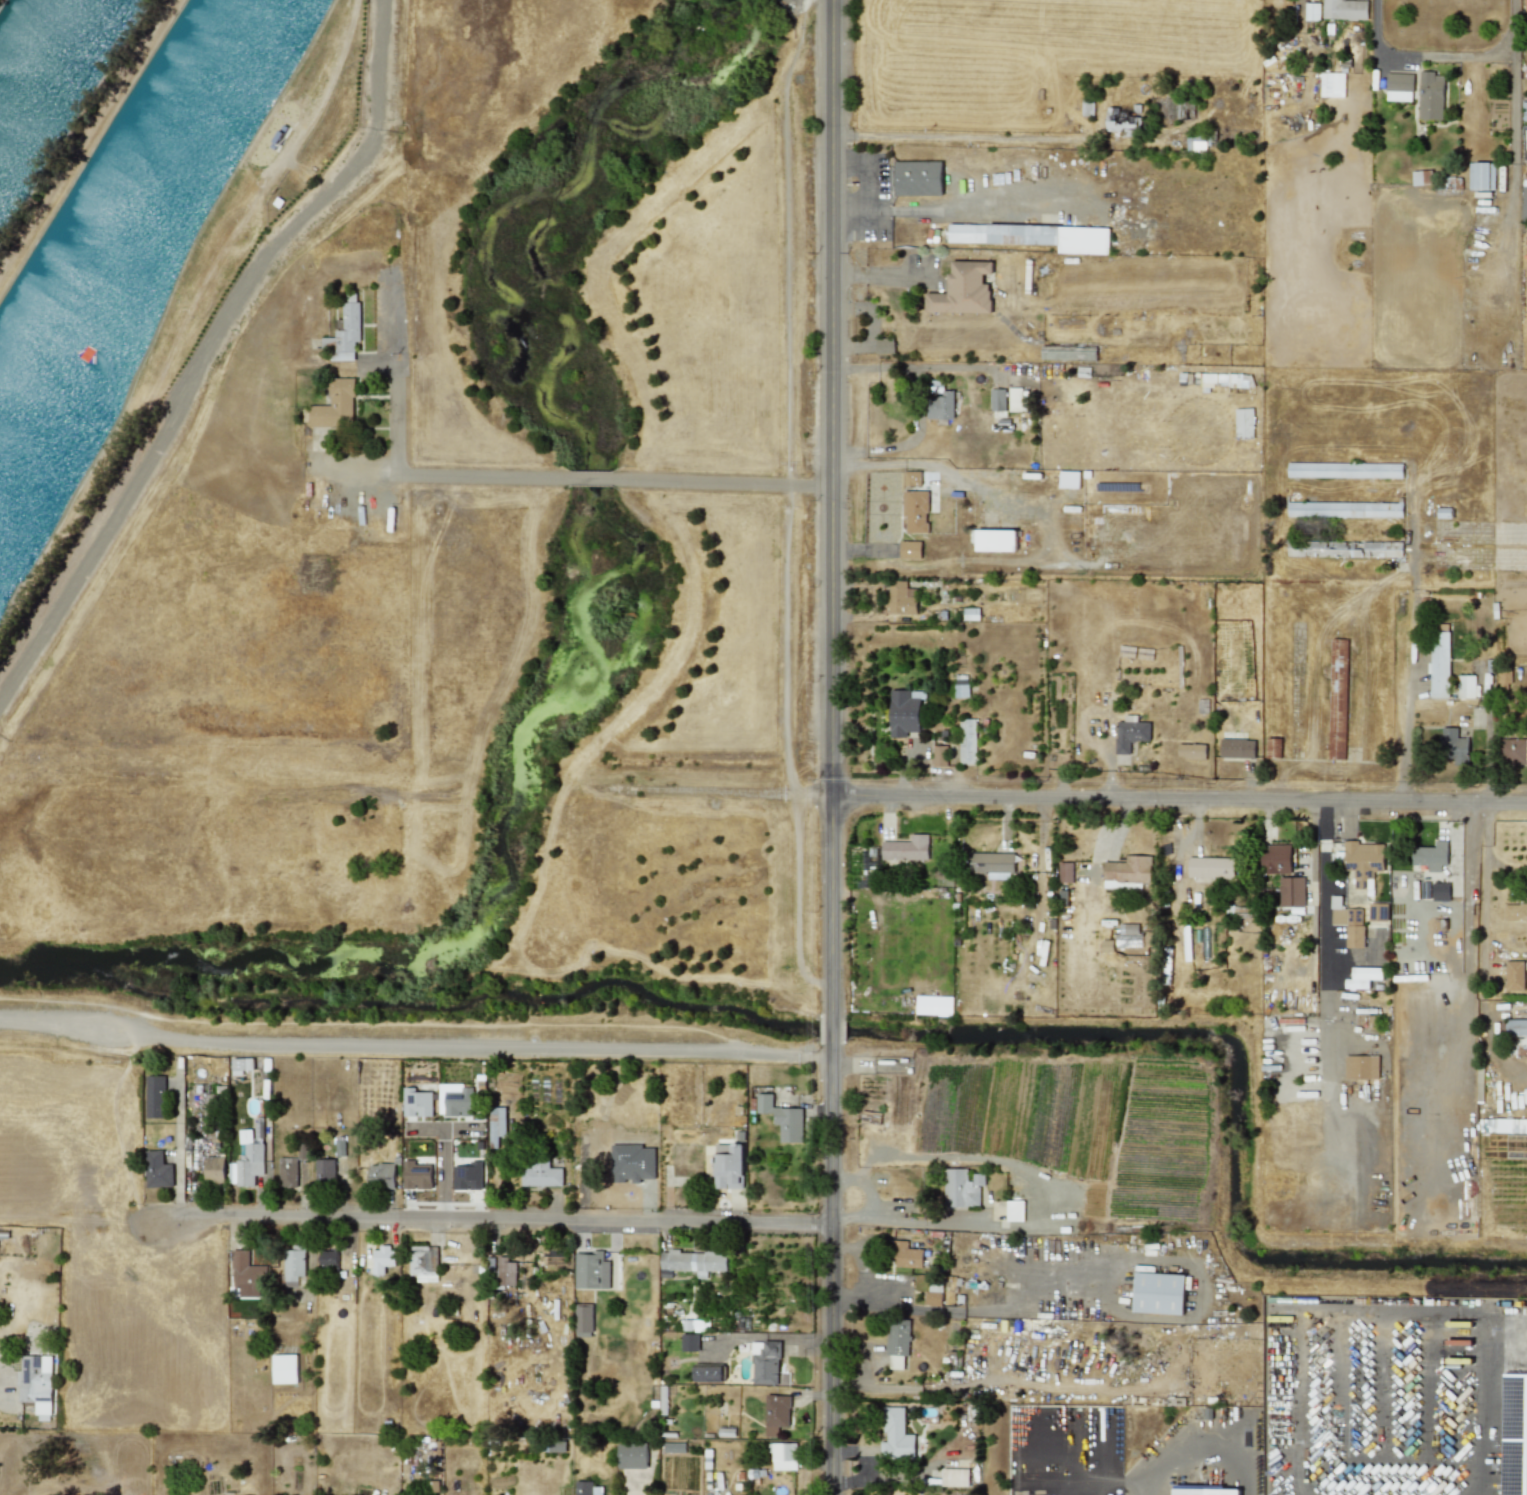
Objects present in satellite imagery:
building: (1526, 5)
building: (1344, 9)
building: (1311, 11)
road: (1442, 55)
building: (1331, 84)
building: (1399, 86)
building: (1430, 95)
road: (1512, 102)
building: (1120, 121)
road: (949, 136)
building: (1195, 142)
building: (1480, 175)
building: (1420, 177)
building: (918, 178)
building: (1524, 204)
building: (1034, 236)
road: (882, 275)
building: (962, 289)
building: (345, 331)
road: (207, 351)
building: (997, 399)
building: (1014, 399)
building: (334, 405)
building: (941, 405)
building: (1243, 422)
road: (398, 454)
road: (360, 470)
building: (1344, 470)
building: (912, 477)
building: (1068, 479)
road: (593, 480)
road: (725, 483)
building: (1344, 509)
road: (831, 510)
building: (915, 511)
building: (995, 540)
building: (1344, 548)
building: (910, 549)
building: (901, 597)
road: (1413, 633)
building: (1439, 664)
building: (960, 685)
building: (1464, 686)
building: (904, 711)
building: (1130, 732)
building: (966, 740)
road: (1488, 741)
building: (1454, 745)
building: (1236, 748)
building: (1191, 750)
building: (1511, 751)
building: (939, 755)
road: (1134, 794)
road: (1467, 844)
building: (906, 848)
building: (1430, 855)
building: (1275, 858)
building: (1362, 860)
building: (991, 864)
building: (1210, 867)
building: (1128, 869)
building: (1064, 871)
building: (1291, 891)
road: (1485, 900)
building: (1377, 911)
building: (1515, 911)
building: (1347, 921)
road: (1324, 932)
building: (1135, 952)
building: (1514, 975)
building: (1362, 976)
building: (933, 1006)
road: (834, 1030)
building: (1517, 1035)
road: (416, 1046)
building: (241, 1065)
building: (1361, 1066)
building: (154, 1096)
building: (455, 1099)
building: (416, 1102)
building: (782, 1118)
building: (496, 1125)
building: (1504, 1125)
road: (178, 1146)
building: (248, 1158)
building: (728, 1166)
building: (214, 1169)
building: (324, 1169)
building: (157, 1170)
building: (287, 1172)
building: (539, 1173)
building: (380, 1175)
building: (416, 1175)
building: (467, 1176)
building: (962, 1187)
building: (1014, 1210)
road: (491, 1217)
building: (1408, 1221)
road: (883, 1222)
building: (906, 1254)
building: (327, 1257)
building: (381, 1258)
building: (692, 1261)
building: (423, 1262)
building: (294, 1266)
road: (833, 1267)
building: (591, 1270)
building: (506, 1271)
building: (247, 1275)
building: (933, 1293)
building: (1158, 1293)
road: (896, 1306)
road: (1170, 1315)
building: (583, 1317)
building: (695, 1325)
road: (1412, 1331)
road: (772, 1340)
building: (689, 1342)
building: (897, 1342)
building: (767, 1363)
building: (284, 1368)
building: (708, 1372)
building: (36, 1382)
road: (1298, 1412)
building: (776, 1413)
road: (1470, 1413)
road: (1209, 1431)
building: (895, 1435)
building: (631, 1455)
building: (783, 1455)
building: (954, 1477)
building: (587, 1488)
building: (1205, 1490)
road: (1384, 1491)
road: (722, 1494)

